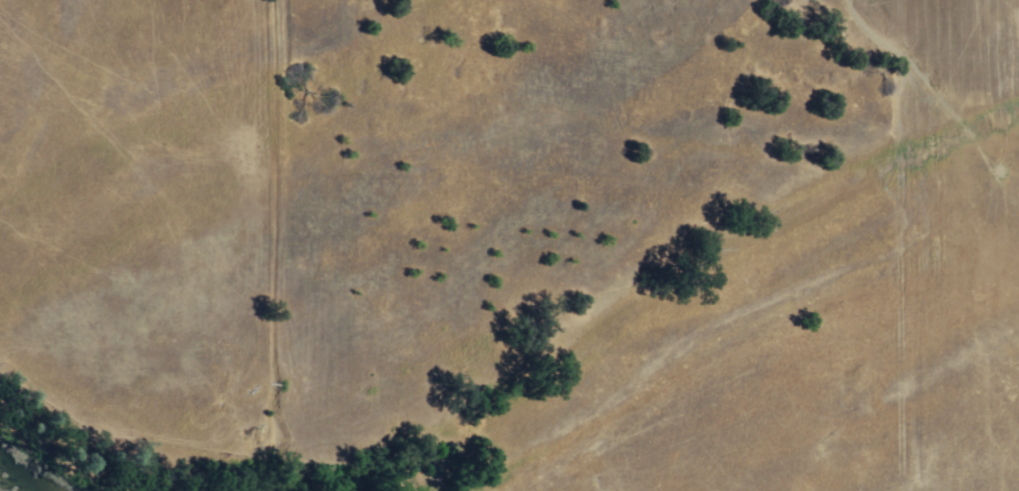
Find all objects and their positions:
river: (18, 478)

